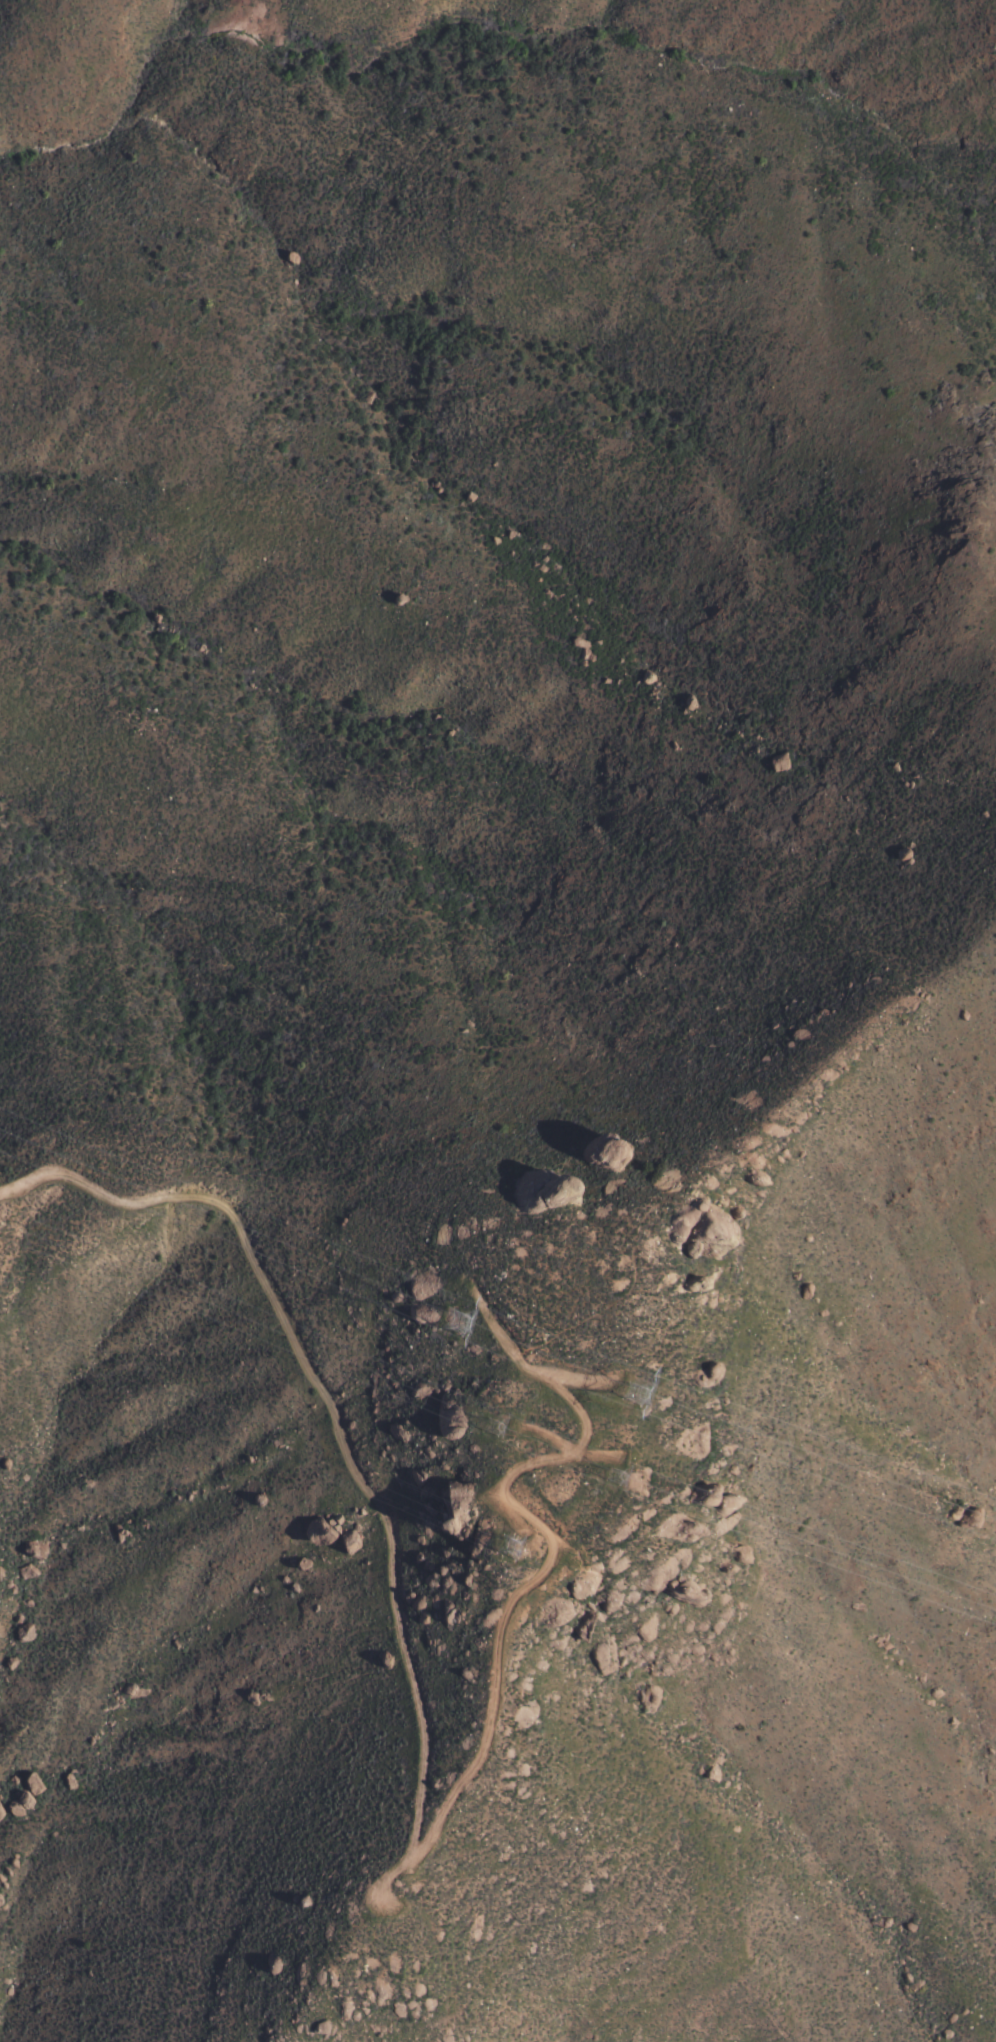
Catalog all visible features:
building: (509, 535)
building: (580, 649)
building: (776, 761)
building: (604, 1153)
building: (554, 1193)
building: (708, 1219)
power tower: (459, 1323)
building: (709, 1372)
power tower: (627, 1394)
power tower: (500, 1431)
power tower: (615, 1476)
building: (451, 1514)
building: (313, 1533)
building: (347, 1540)
building: (30, 1548)
power tower: (513, 1549)
building: (24, 1570)
building: (22, 1631)
building: (648, 1697)
building: (69, 1778)
building: (30, 1782)
building: (17, 1804)

